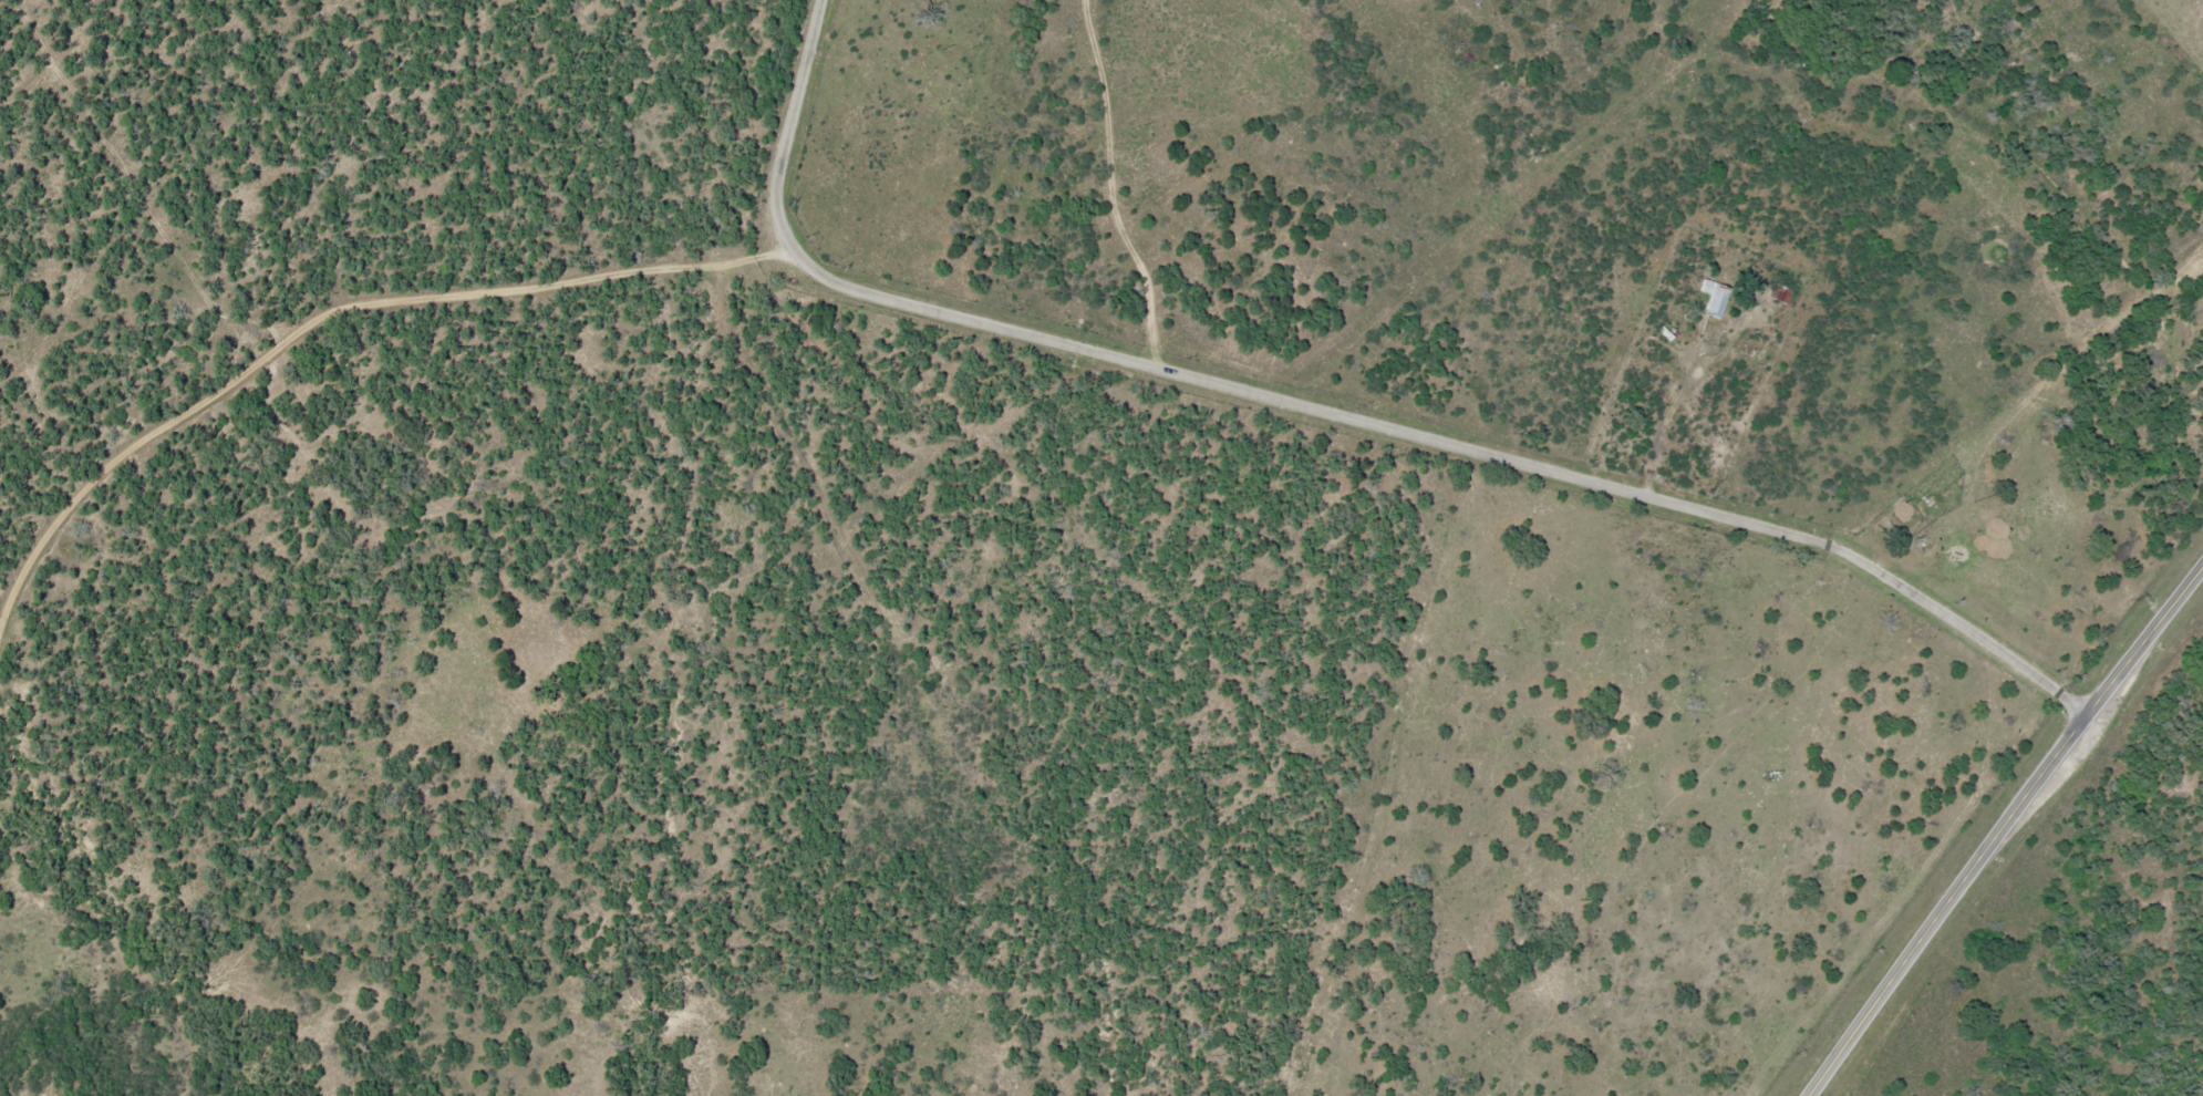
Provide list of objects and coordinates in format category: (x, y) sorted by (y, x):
building: (901, 51)
building: (914, 56)
building: (1779, 293)
building: (1714, 297)
road: (334, 316)
road: (1671, 412)
road: (1331, 416)
road: (2005, 829)
power plant: (2086, 941)

